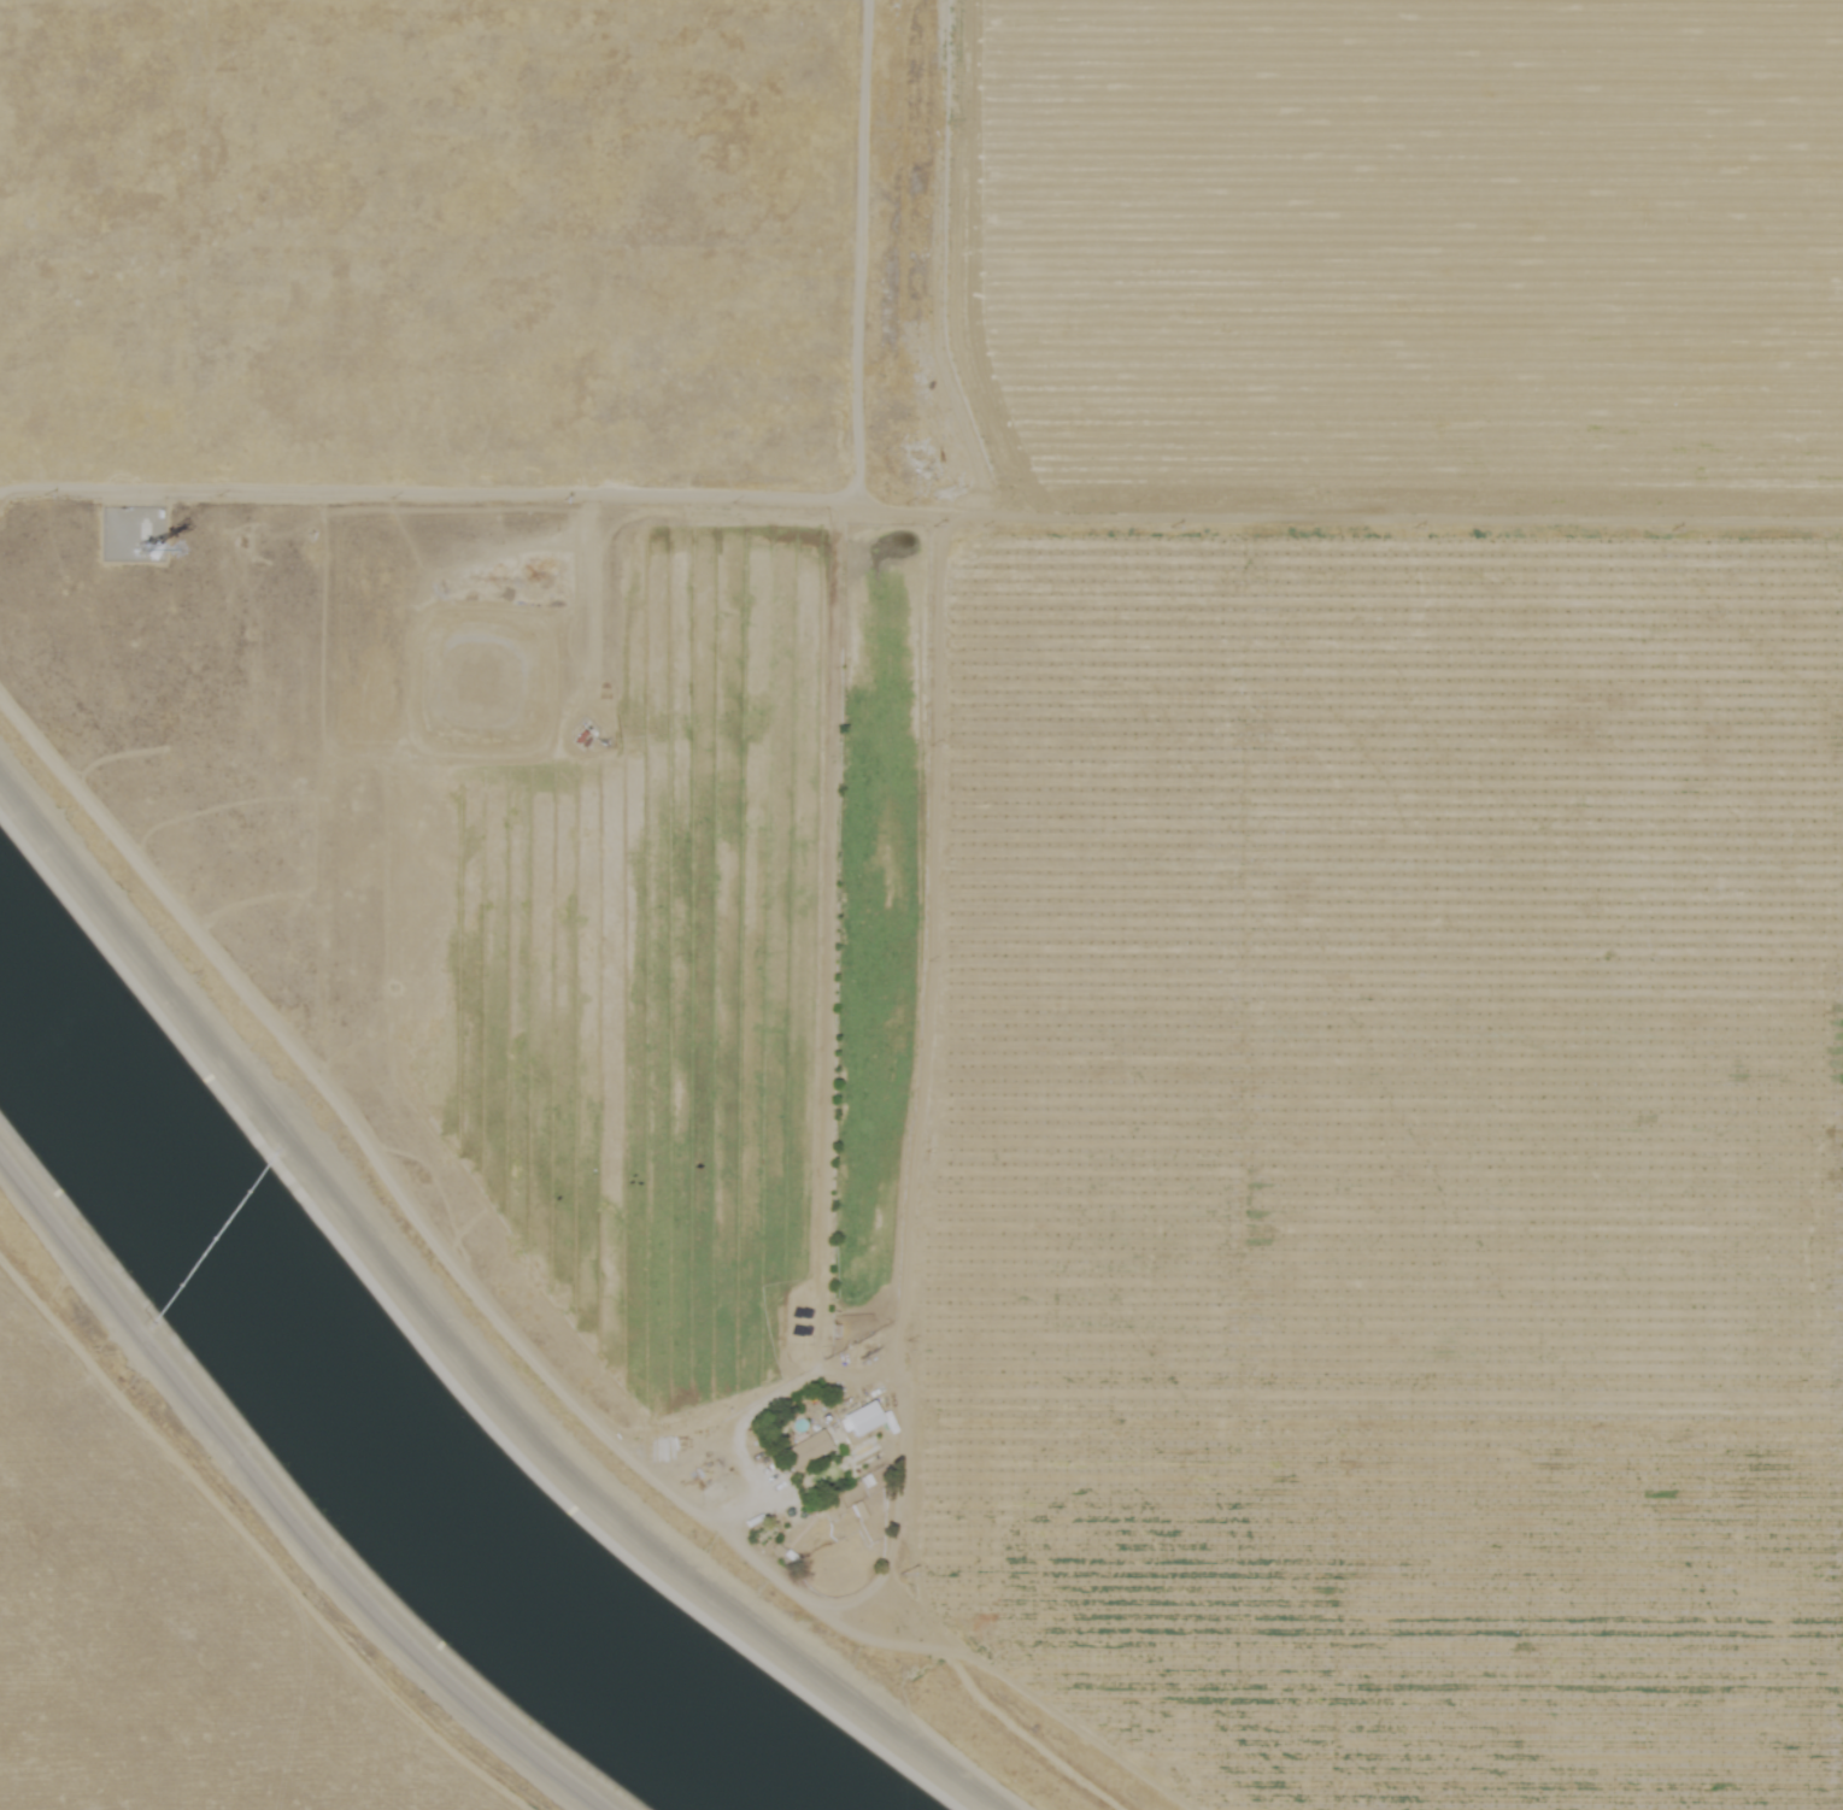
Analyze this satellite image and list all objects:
road: (857, 252)
crop: (1157, 883)
road: (876, 1368)
building: (850, 1416)
building: (794, 1447)
road: (276, 1505)
crop: (165, 1618)

